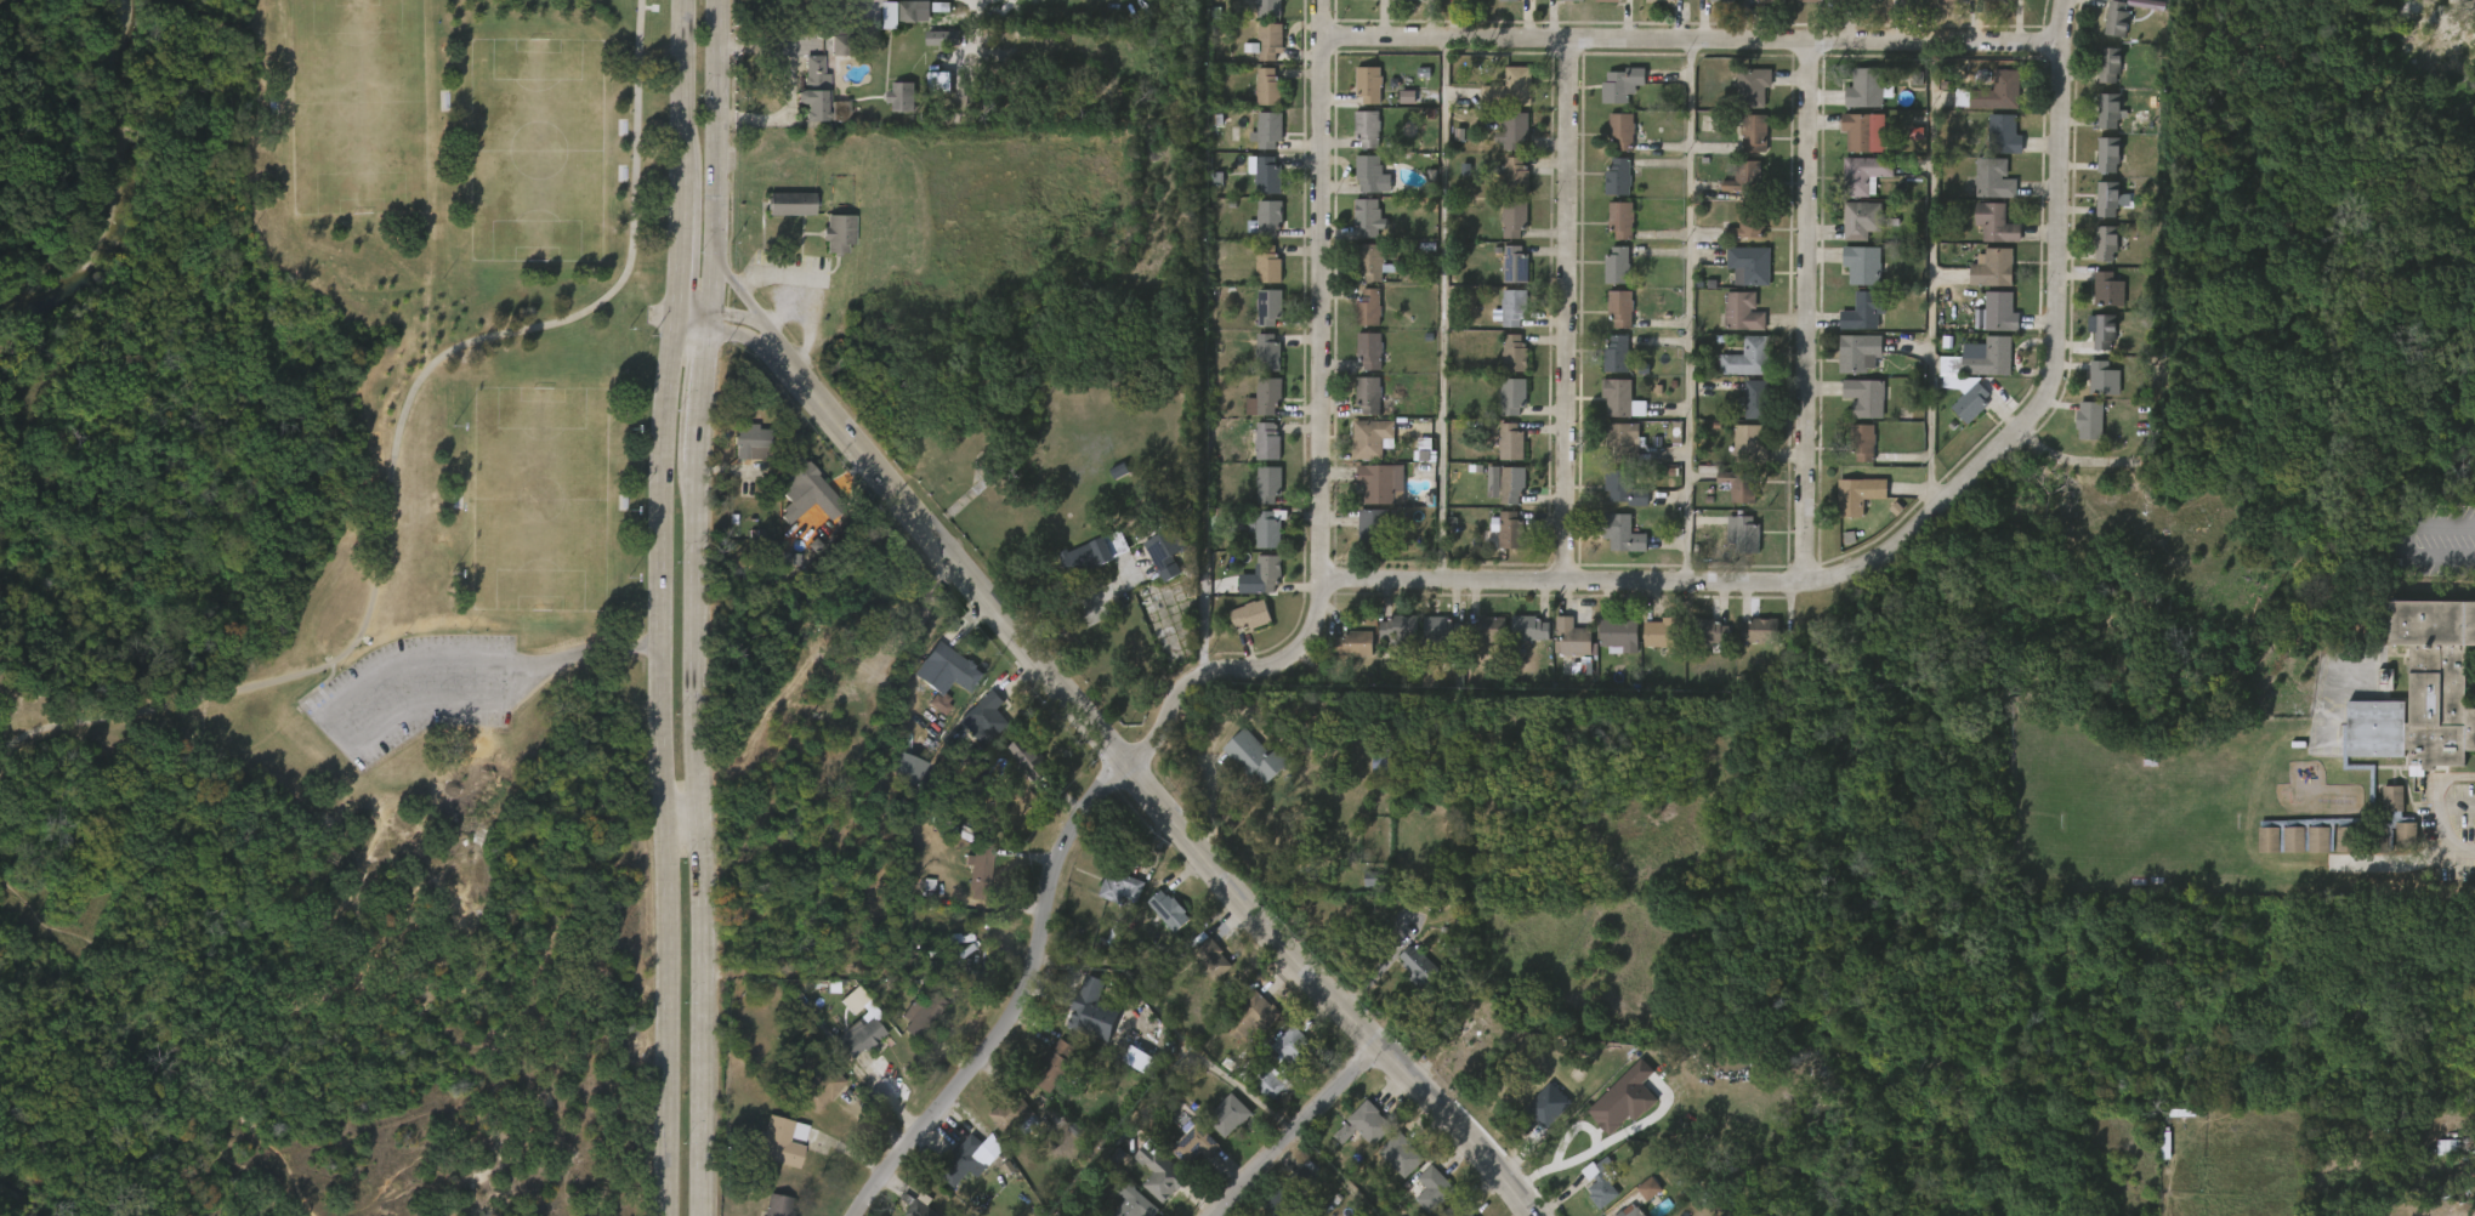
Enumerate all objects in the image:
building: (1409, 0)
building: (1606, 0)
building: (1816, 0)
building: (1866, 0)
building: (1667, 1)
building: (1769, 1)
building: (1913, 1)
building: (1952, 1)
building: (2128, 1)
building: (1356, 5)
building: (1454, 5)
building: (1268, 6)
building: (1504, 6)
building: (1552, 6)
building: (1704, 6)
building: (1992, 6)
building: (912, 12)
building: (1256, 15)
building: (2119, 18)
building: (886, 28)
building: (2104, 33)
building: (842, 40)
building: (1266, 40)
road: (1692, 41)
building: (931, 52)
building: (1256, 56)
building: (2111, 63)
building: (2096, 79)
building: (1367, 83)
building: (1623, 84)
building: (1266, 86)
building: (1755, 87)
building: (1871, 87)
building: (1511, 89)
building: (813, 90)
building: (1993, 91)
building: (902, 97)
building: (1610, 98)
building: (1357, 100)
building: (1741, 101)
building: (1255, 102)
building: (1499, 102)
building: (1854, 103)
park: (363, 107)
building: (891, 107)
building: (807, 109)
building: (2111, 109)
building: (1395, 110)
building: (1981, 110)
building: (1366, 127)
building: (2095, 127)
building: (1266, 129)
building: (1516, 129)
building: (1623, 131)
building: (1862, 131)
road: (721, 132)
building: (1755, 132)
building: (2003, 133)
building: (1356, 141)
building: (1502, 144)
building: (1256, 146)
building: (1610, 146)
building: (1851, 146)
building: (1742, 148)
building: (1992, 149)
park: (541, 150)
building: (2110, 153)
road: (680, 163)
building: (2095, 169)
building: (1367, 172)
building: (1266, 175)
building: (1516, 176)
building: (1867, 176)
building: (1619, 177)
building: (1747, 177)
building: (1993, 177)
building: (1253, 188)
building: (1359, 188)
building: (1504, 188)
building: (1737, 189)
building: (1606, 191)
building: (2110, 198)
building: (1983, 201)
building: (789, 203)
building: (2095, 214)
building: (1368, 217)
building: (779, 218)
building: (1265, 218)
building: (1516, 218)
building: (1622, 220)
building: (1864, 220)
building: (1996, 222)
building: (1750, 223)
building: (836, 232)
building: (1356, 232)
building: (1255, 234)
building: (1503, 234)
building: (1610, 234)
building: (1849, 234)
building: (1983, 238)
building: (1735, 240)
building: (2107, 243)
building: (828, 248)
building: (2093, 258)
building: (1374, 262)
building: (1754, 263)
building: (1266, 265)
building: (1517, 265)
building: (1864, 265)
building: (1618, 266)
road: (773, 268)
building: (1993, 268)
building: (1359, 277)
building: (1606, 277)
road: (1929, 277)
building: (1503, 278)
building: (1256, 279)
building: (1737, 279)
building: (1850, 279)
building: (1980, 283)
building: (2107, 289)
road: (738, 294)
building: (2095, 303)
building: (1267, 306)
building: (1515, 307)
building: (1370, 308)
building: (1623, 308)
road: (1443, 309)
road: (1563, 311)
building: (1867, 311)
road: (1688, 312)
building: (1745, 312)
building: (1997, 312)
road: (714, 313)
road: (1806, 313)
building: (1357, 320)
building: (1256, 323)
building: (1498, 323)
building: (1608, 323)
building: (1731, 326)
building: (1850, 326)
building: (1985, 326)
building: (2106, 330)
road: (719, 331)
road: (767, 331)
building: (2091, 347)
building: (1372, 350)
building: (1266, 352)
building: (1862, 353)
building: (1516, 354)
building: (1618, 354)
building: (1747, 357)
building: (1993, 357)
building: (1949, 359)
building: (1358, 364)
building: (1255, 366)
building: (1502, 368)
building: (1605, 368)
building: (1847, 368)
building: (1982, 371)
building: (1733, 373)
building: (2106, 379)
building: (2091, 392)
building: (1267, 394)
building: (1370, 394)
building: (1515, 396)
building: (1619, 398)
building: (1868, 398)
building: (1755, 399)
building: (1970, 400)
building: (1356, 408)
building: (1253, 411)
building: (1852, 411)
building: (1610, 413)
building: (1743, 414)
building: (1958, 415)
building: (2094, 421)
building: (2077, 434)
building: (1374, 438)
road: (1316, 439)
road: (393, 441)
building: (753, 441)
building: (1267, 441)
building: (1624, 441)
building: (1512, 442)
building: (1866, 442)
building: (1748, 444)
building: (1611, 451)
building: (1361, 453)
building: (1255, 455)
building: (1498, 455)
building: (739, 456)
building: (1737, 458)
building: (1850, 458)
road: (2068, 460)
building: (807, 477)
building: (1267, 483)
building: (1379, 484)
building: (1514, 485)
building: (1737, 485)
building: (1623, 488)
building: (1862, 495)
building: (1494, 498)
building: (1256, 499)
building: (1727, 500)
park: (539, 501)
building: (1613, 504)
building: (795, 505)
building: (1846, 510)
building: (1267, 528)
building: (1374, 529)
building: (1508, 529)
building: (1620, 533)
building: (1745, 535)
road: (1903, 539)
building: (1254, 542)
building: (1361, 542)
building: (1494, 542)
road: (2406, 544)
building: (1611, 547)
building: (1733, 549)
building: (1163, 552)
building: (1083, 557)
road: (943, 558)
building: (1152, 570)
building: (1074, 572)
building: (1266, 573)
building: (1250, 590)
park: (325, 604)
park: (334, 608)
building: (1253, 614)
building: (1397, 626)
building: (1528, 627)
building: (1238, 629)
building: (1487, 629)
building: (1759, 630)
building: (1707, 631)
building: (1441, 632)
building: (1662, 632)
building: (1618, 635)
building: (1571, 638)
building: (1391, 641)
building: (1426, 642)
building: (1478, 642)
building: (1353, 643)
building: (1519, 643)
building: (1747, 646)
building: (1647, 648)
building: (1606, 649)
building: (1560, 652)
building: (1342, 659)
building: (950, 670)
road: (498, 680)
building: (936, 683)
parking lot: (414, 693)
building: (2413, 705)
building: (983, 718)
road: (698, 740)
building: (1253, 756)
building: (1027, 757)
road: (653, 769)
building: (1242, 769)
building: (1016, 772)
road: (679, 820)
road: (2426, 822)
building: (2341, 837)
building: (2392, 847)
building: (2255, 853)
building: (2280, 853)
building: (2305, 853)
building: (2332, 853)
building: (980, 865)
road: (2452, 882)
building: (1118, 887)
building: (967, 888)
building: (1108, 902)
building: (1169, 909)
building: (1157, 924)
building: (1210, 955)
building: (1417, 966)
building: (1202, 973)
building: (1404, 978)
road: (1311, 998)
road: (1014, 1005)
building: (1085, 1013)
building: (920, 1015)
building: (1249, 1017)
road: (1170, 1028)
building: (861, 1038)
building: (1293, 1049)
building: (1278, 1059)
building: (1055, 1067)
building: (1126, 1073)
building: (1266, 1085)
building: (818, 1086)
building: (1261, 1096)
building: (1012, 1114)
building: (1611, 1114)
building: (1226, 1115)
building: (1535, 1119)
building: (1368, 1121)
building: (1000, 1129)
building: (1216, 1129)
road: (1292, 1137)
road: (1566, 1137)
building: (1351, 1140)
building: (773, 1142)
building: (1196, 1147)
building: (1400, 1153)
building: (2435, 1160)
building: (964, 1161)
building: (1390, 1169)
building: (1160, 1177)
building: (1602, 1181)
building: (1431, 1188)
building: (1151, 1189)
building: (1292, 1191)
building: (1419, 1198)
building: (1586, 1198)
building: (1131, 1201)
building: (1636, 1203)
building: (776, 1205)
building: (919, 1205)
building: (1458, 1209)
building: (1629, 1211)

